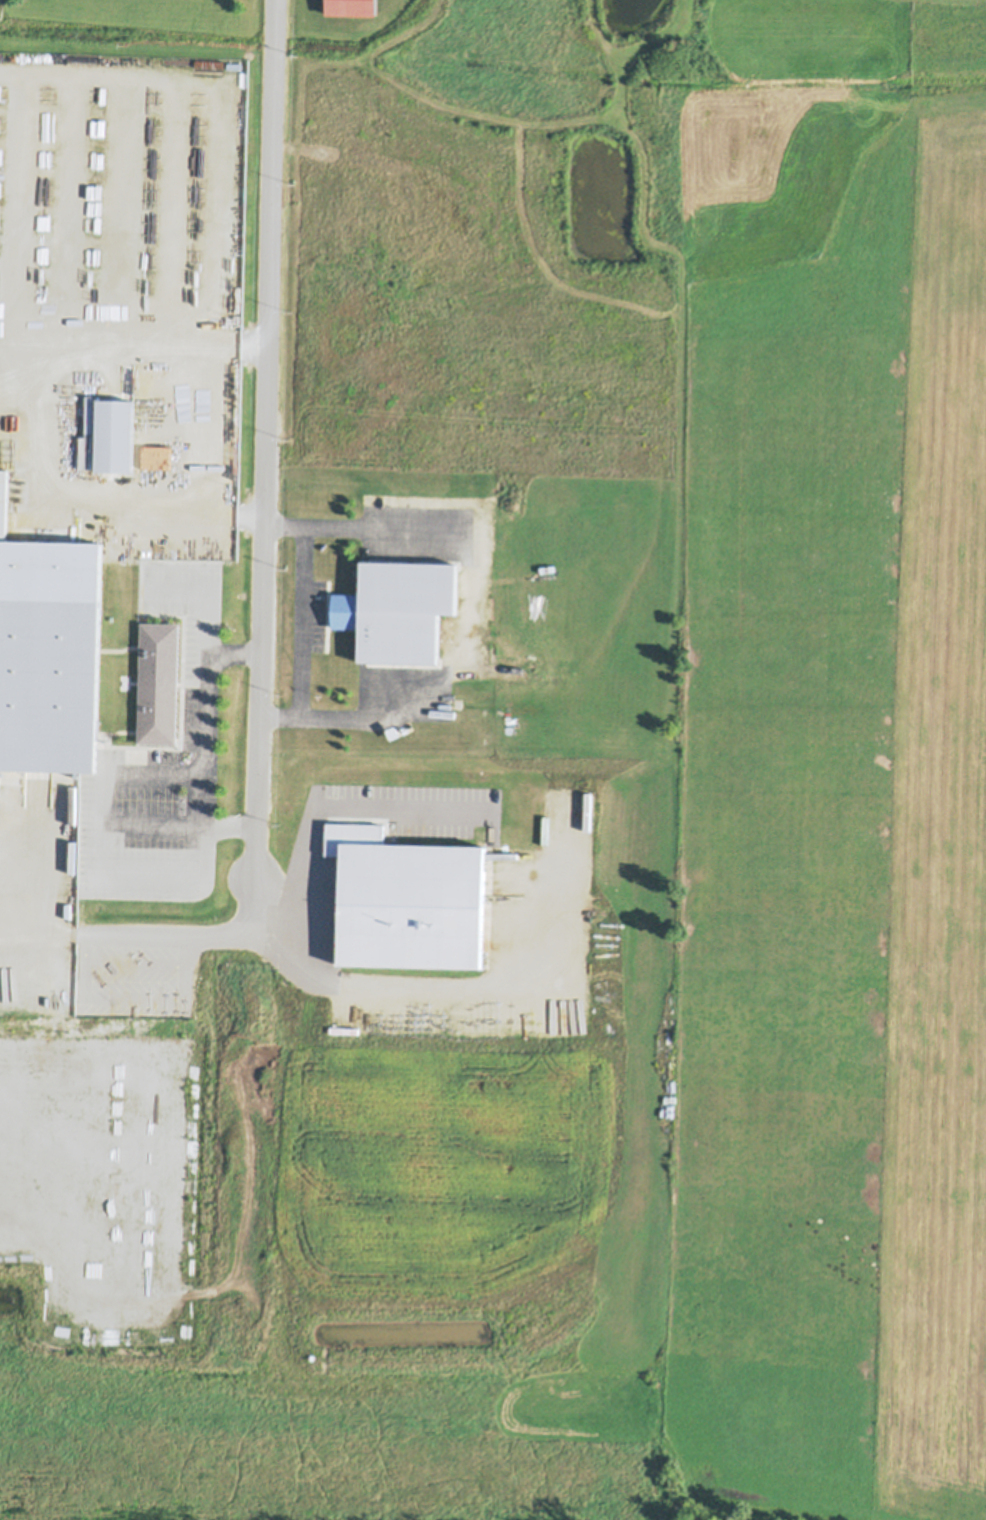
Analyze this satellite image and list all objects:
building: (113, 435)
building: (3, 502)
road: (351, 528)
road: (258, 566)
building: (397, 610)
road: (299, 620)
road: (203, 622)
road: (229, 651)
building: (49, 684)
building: (157, 712)
road: (337, 713)
building: (392, 732)
road: (175, 816)
road: (156, 865)
road: (276, 896)
road: (304, 947)
crop: (351, 1168)

